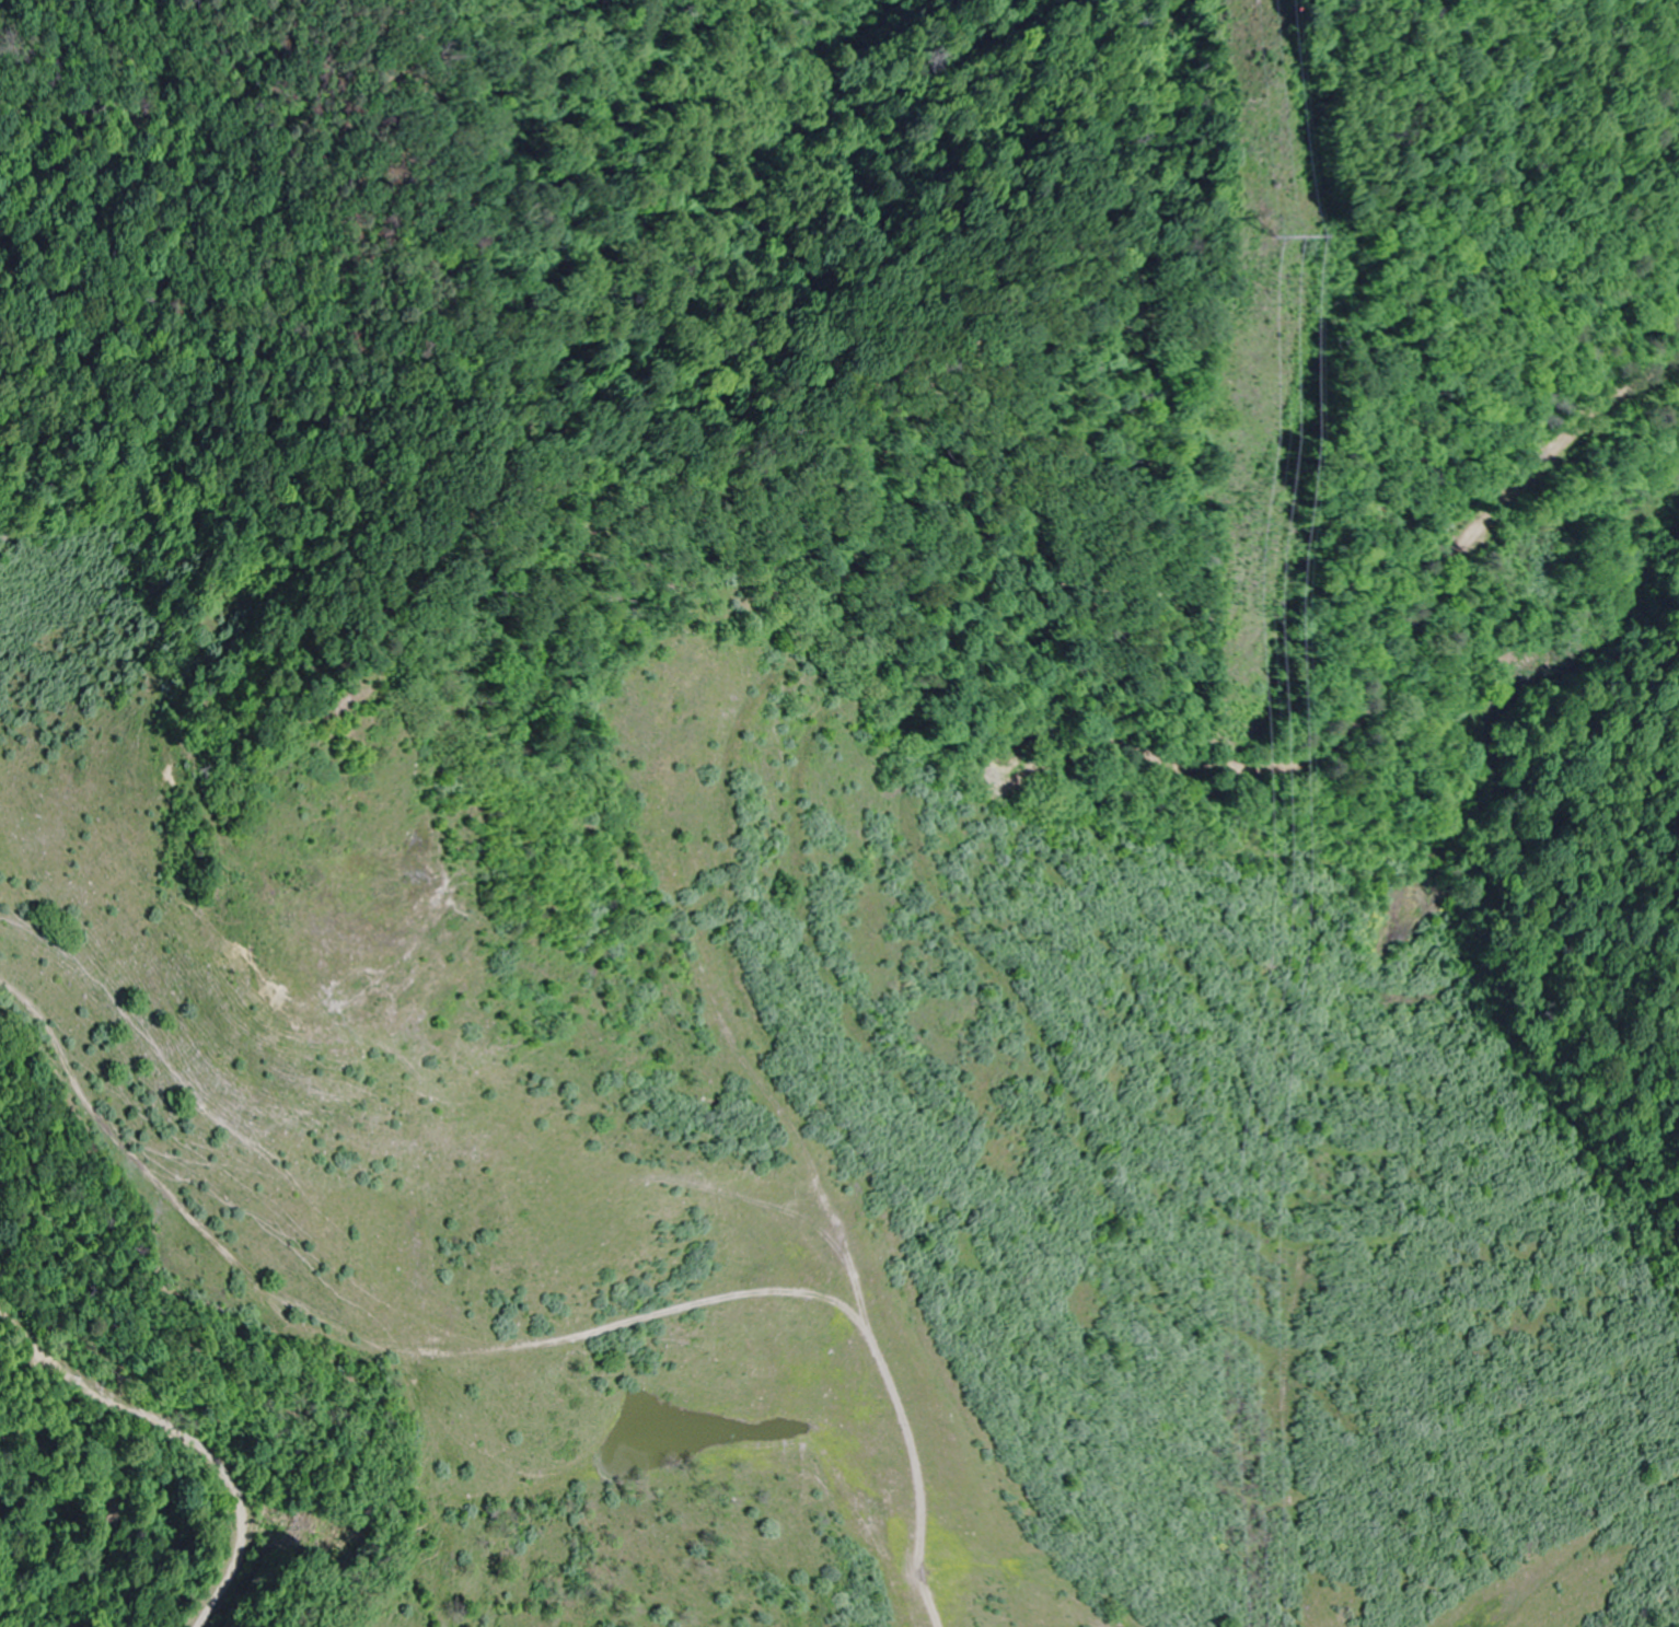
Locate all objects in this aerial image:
road: (72, 1171)

